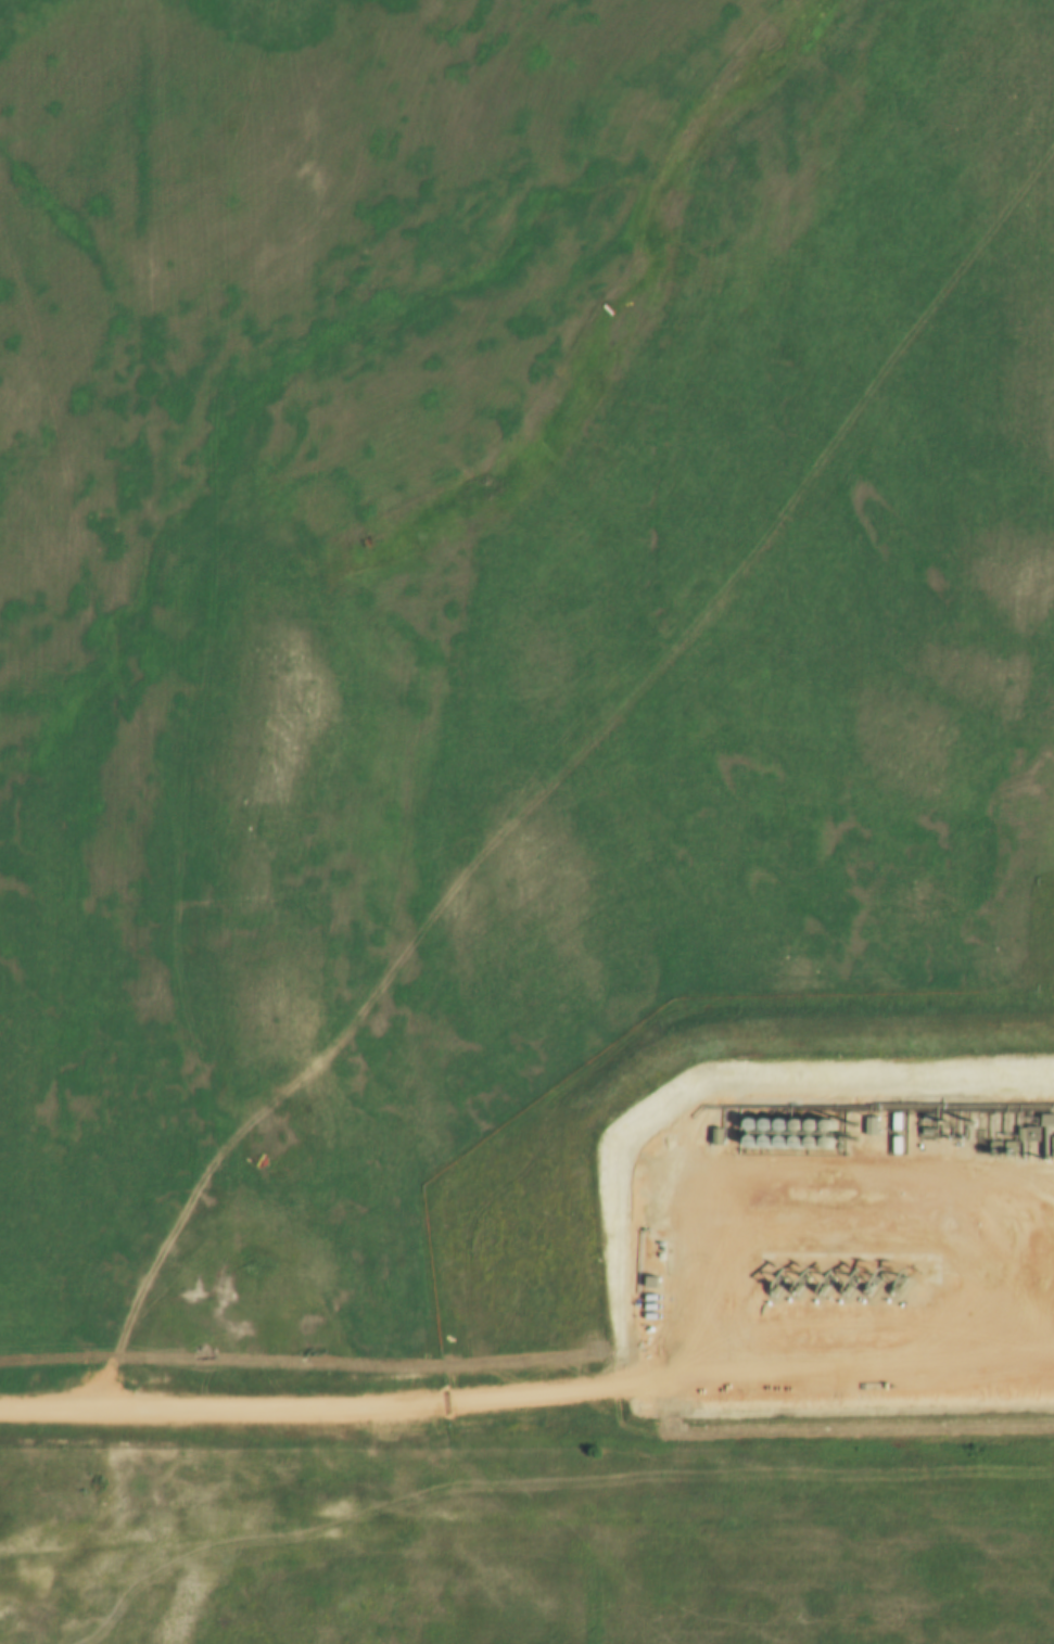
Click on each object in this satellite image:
road: (526, 1386)

